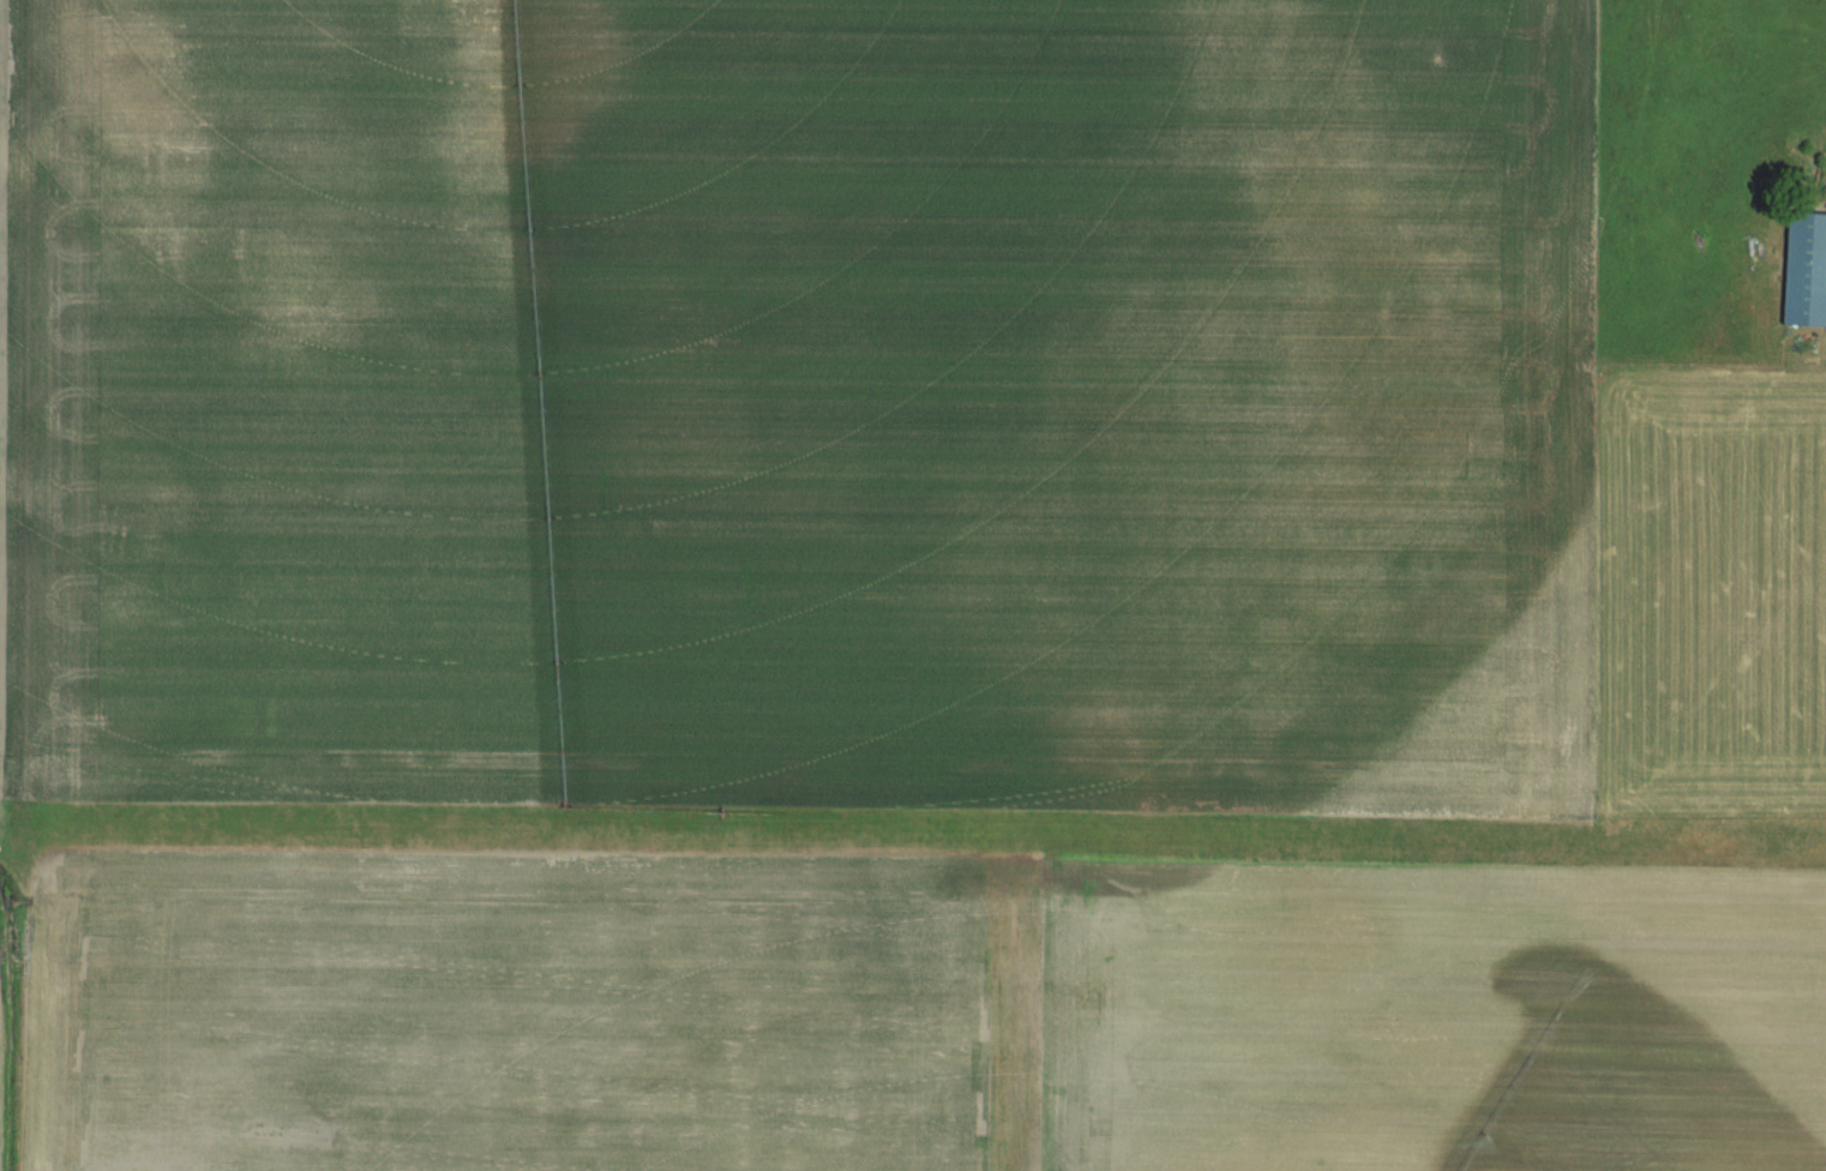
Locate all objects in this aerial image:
building: (1809, 274)

